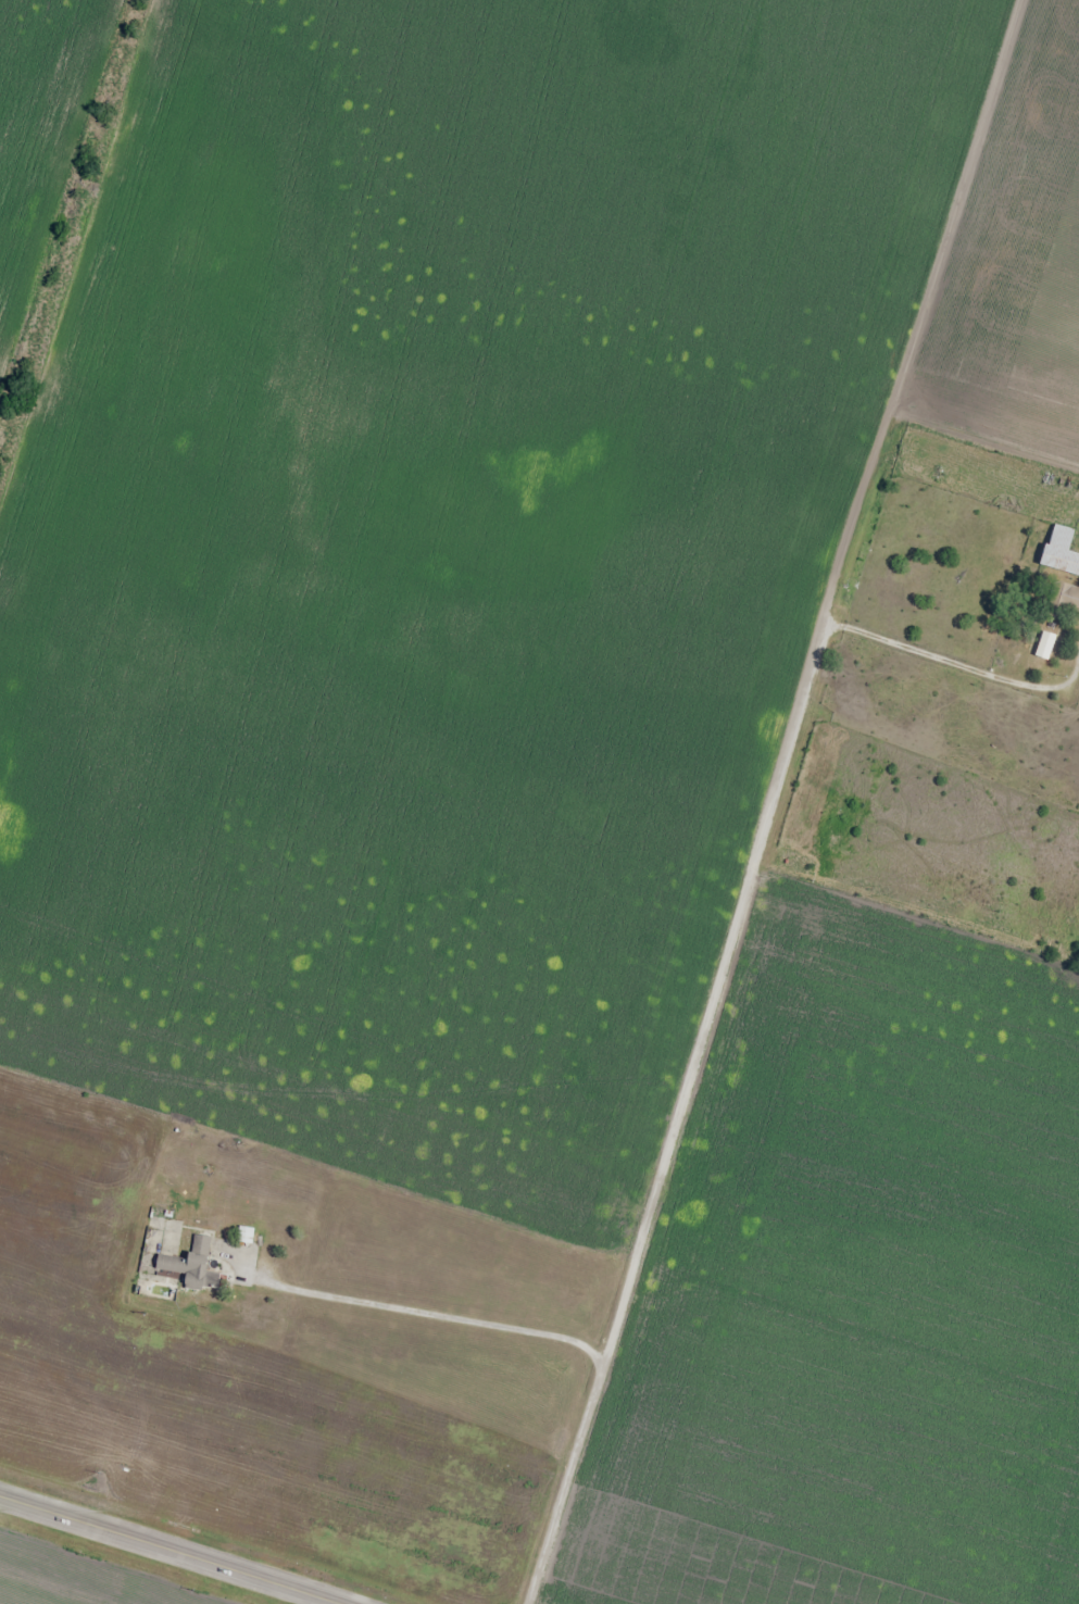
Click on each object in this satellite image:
road: (1009, 32)
building: (1057, 551)
building: (1062, 601)
road: (980, 654)
road: (737, 824)
building: (185, 1266)
road: (165, 1551)

